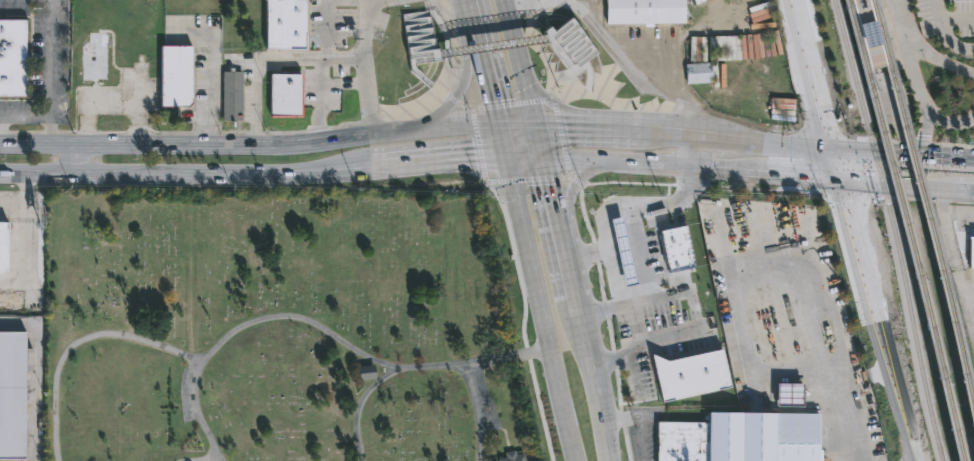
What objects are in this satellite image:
road: (893, 1)
road: (511, 2)
road: (523, 6)
building: (644, 11)
road: (472, 17)
parking lot: (945, 17)
road: (956, 21)
building: (284, 25)
road: (407, 28)
road: (327, 29)
road: (364, 29)
railway: (855, 32)
road: (942, 36)
road: (540, 40)
road: (577, 42)
road: (492, 45)
road: (922, 51)
road: (434, 55)
building: (14, 58)
building: (93, 58)
road: (344, 58)
road: (905, 58)
road: (518, 61)
road: (413, 65)
road: (257, 66)
road: (631, 67)
railway: (874, 67)
building: (698, 72)
road: (50, 73)
road: (569, 73)
road: (814, 73)
road: (824, 74)
railway: (874, 74)
building: (176, 75)
road: (571, 75)
road: (489, 78)
road: (210, 89)
building: (282, 94)
building: (230, 95)
traffic signals: (494, 96)
road: (455, 97)
road: (318, 98)
road: (366, 98)
road: (109, 100)
road: (461, 103)
road: (377, 110)
road: (25, 116)
road: (586, 118)
road: (949, 123)
road: (516, 124)
traffic signals: (564, 125)
road: (603, 128)
road: (742, 128)
road: (681, 132)
road: (924, 133)
road: (760, 140)
road: (503, 141)
road: (539, 141)
road: (250, 145)
road: (808, 147)
traffic signals: (832, 147)
road: (689, 150)
road: (877, 151)
traffic signals: (476, 158)
road: (948, 158)
road: (525, 159)
road: (73, 160)
road: (439, 160)
road: (653, 165)
road: (837, 165)
road: (358, 169)
road: (568, 173)
road: (172, 174)
road: (801, 179)
road: (575, 181)
traffic signals: (842, 183)
road: (851, 186)
road: (888, 187)
traffic signals: (551, 191)
road: (954, 191)
road: (569, 192)
road: (553, 200)
railway: (925, 200)
road: (938, 202)
building: (612, 215)
gas station: (612, 215)
railway: (892, 229)
road: (624, 232)
building: (2, 246)
building: (663, 246)
building: (971, 253)
road: (953, 257)
railway: (918, 262)
road: (567, 269)
road: (189, 280)
building: (10, 300)
road: (632, 303)
road: (603, 309)
road: (541, 310)
road: (524, 318)
road: (607, 322)
road: (879, 322)
road: (635, 323)
park: (277, 328)
road: (320, 331)
road: (577, 333)
road: (132, 336)
road: (640, 342)
road: (631, 373)
road: (35, 374)
building: (693, 375)
building: (13, 395)
building: (786, 395)
road: (359, 407)
road: (832, 412)
road: (475, 413)
road: (596, 415)
road: (638, 418)
building: (761, 437)
building: (679, 441)
building: (512, 457)
road: (188, 460)

